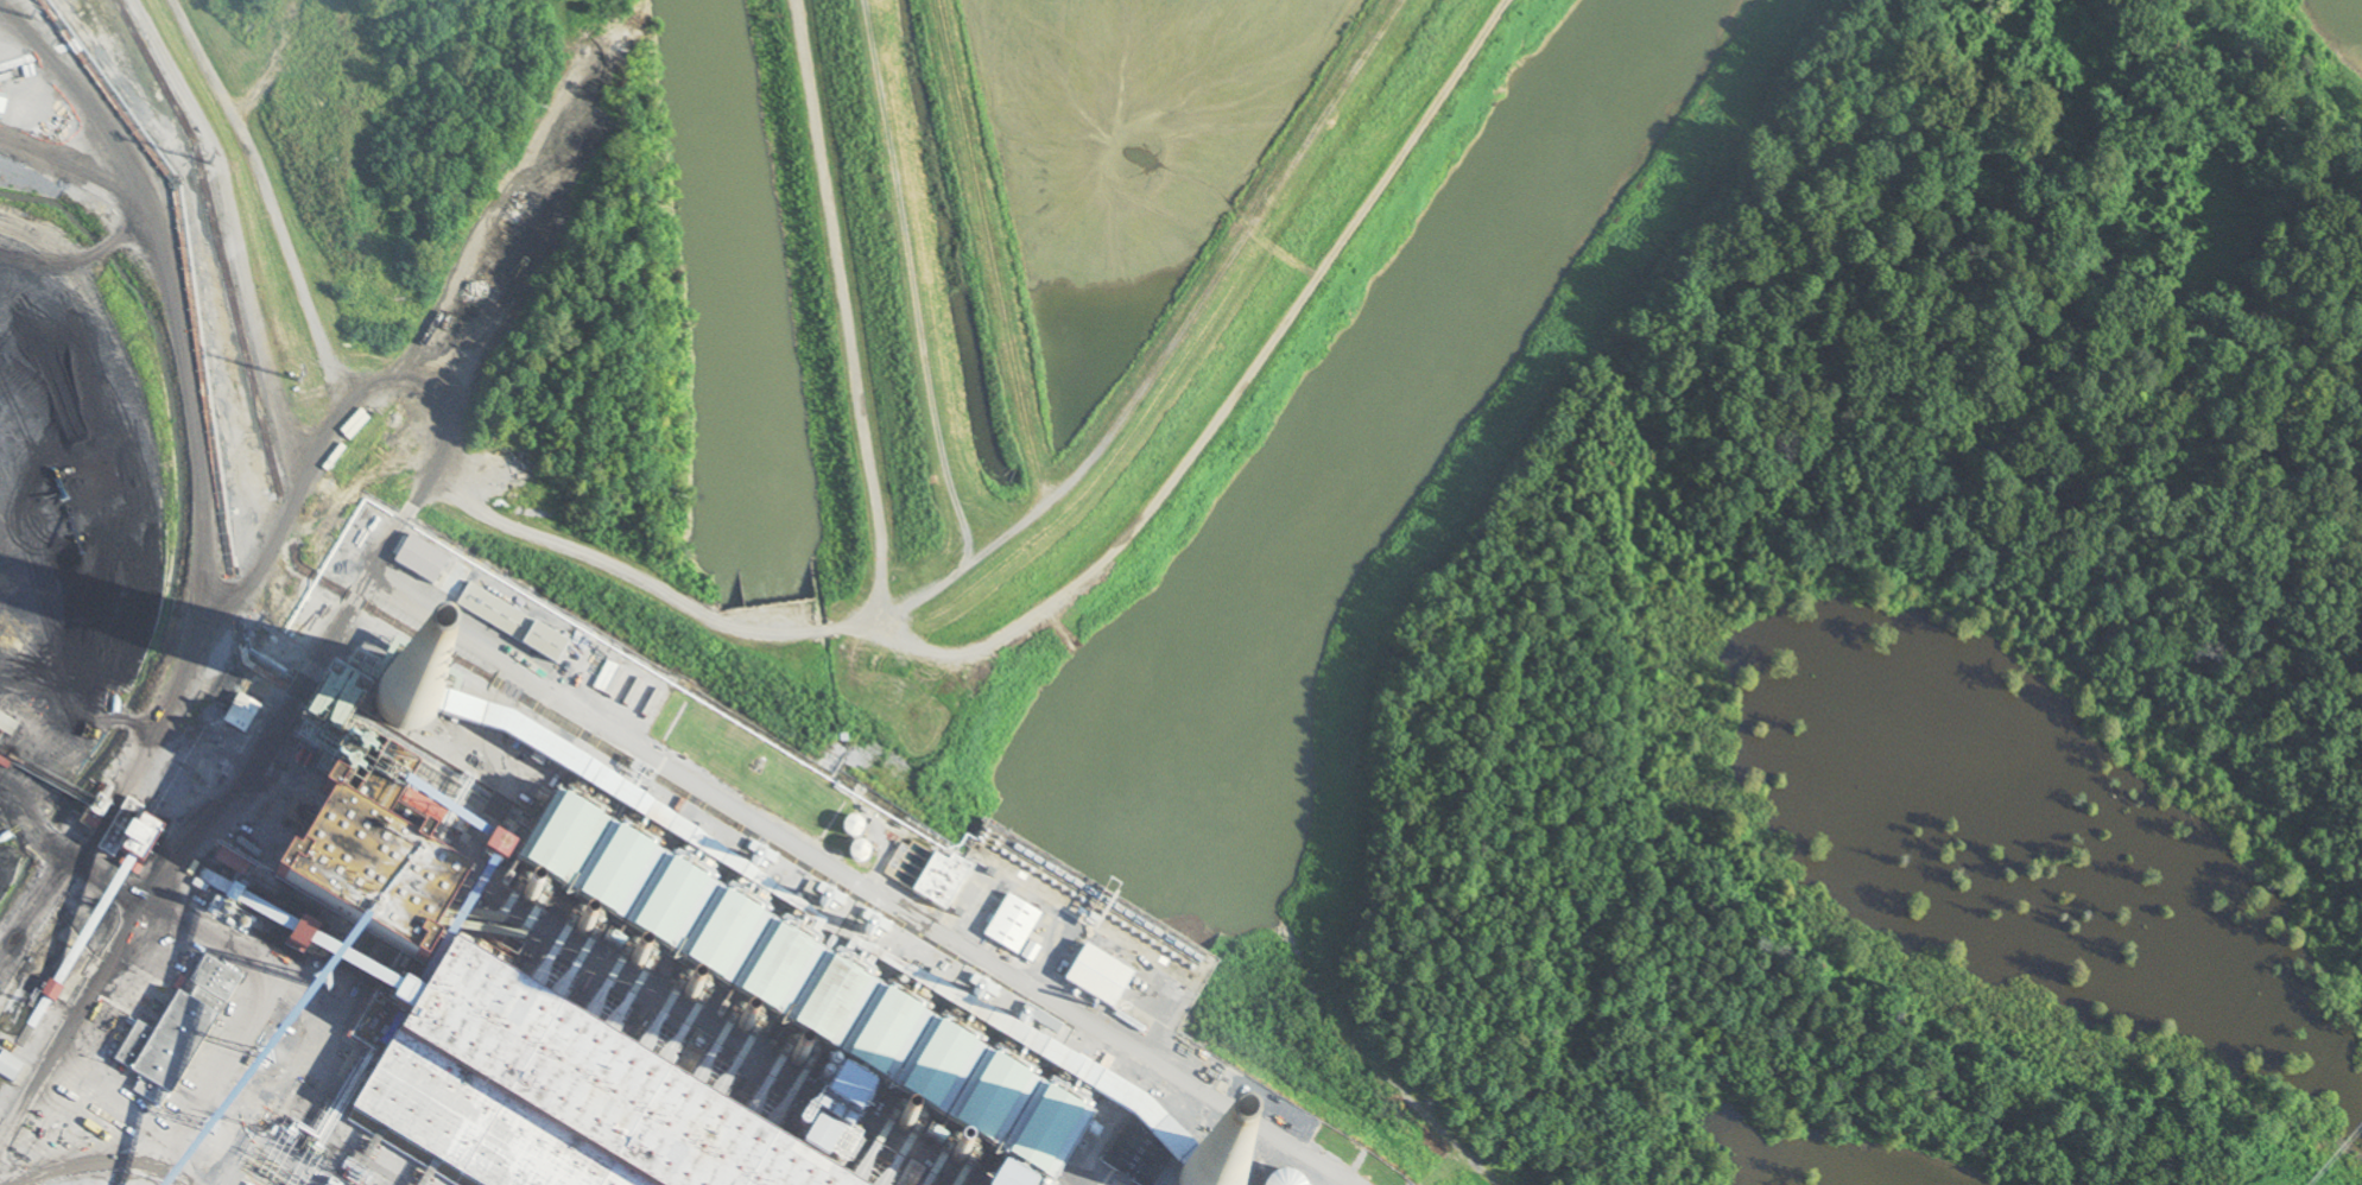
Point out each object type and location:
building: (419, 559)
building: (455, 581)
building: (495, 614)
chimney: (407, 693)
road: (278, 702)
building: (7, 725)
building: (853, 829)
building: (127, 834)
building: (498, 854)
building: (363, 863)
building: (942, 882)
building: (653, 885)
chimney: (530, 893)
power plant: (570, 924)
building: (1013, 926)
chimney: (581, 932)
chimney: (638, 963)
building: (1100, 978)
building: (51, 991)
chimney: (685, 994)
chimney: (742, 1031)
building: (176, 1033)
building: (884, 1034)
chimney: (796, 1063)
building: (1202, 1067)
chimney: (851, 1095)
building: (539, 1097)
building: (1065, 1116)
chimney: (905, 1129)
railway: (302, 1164)
chimney: (958, 1164)
road: (182, 1170)
building: (987, 1177)
chimney: (1212, 1184)

